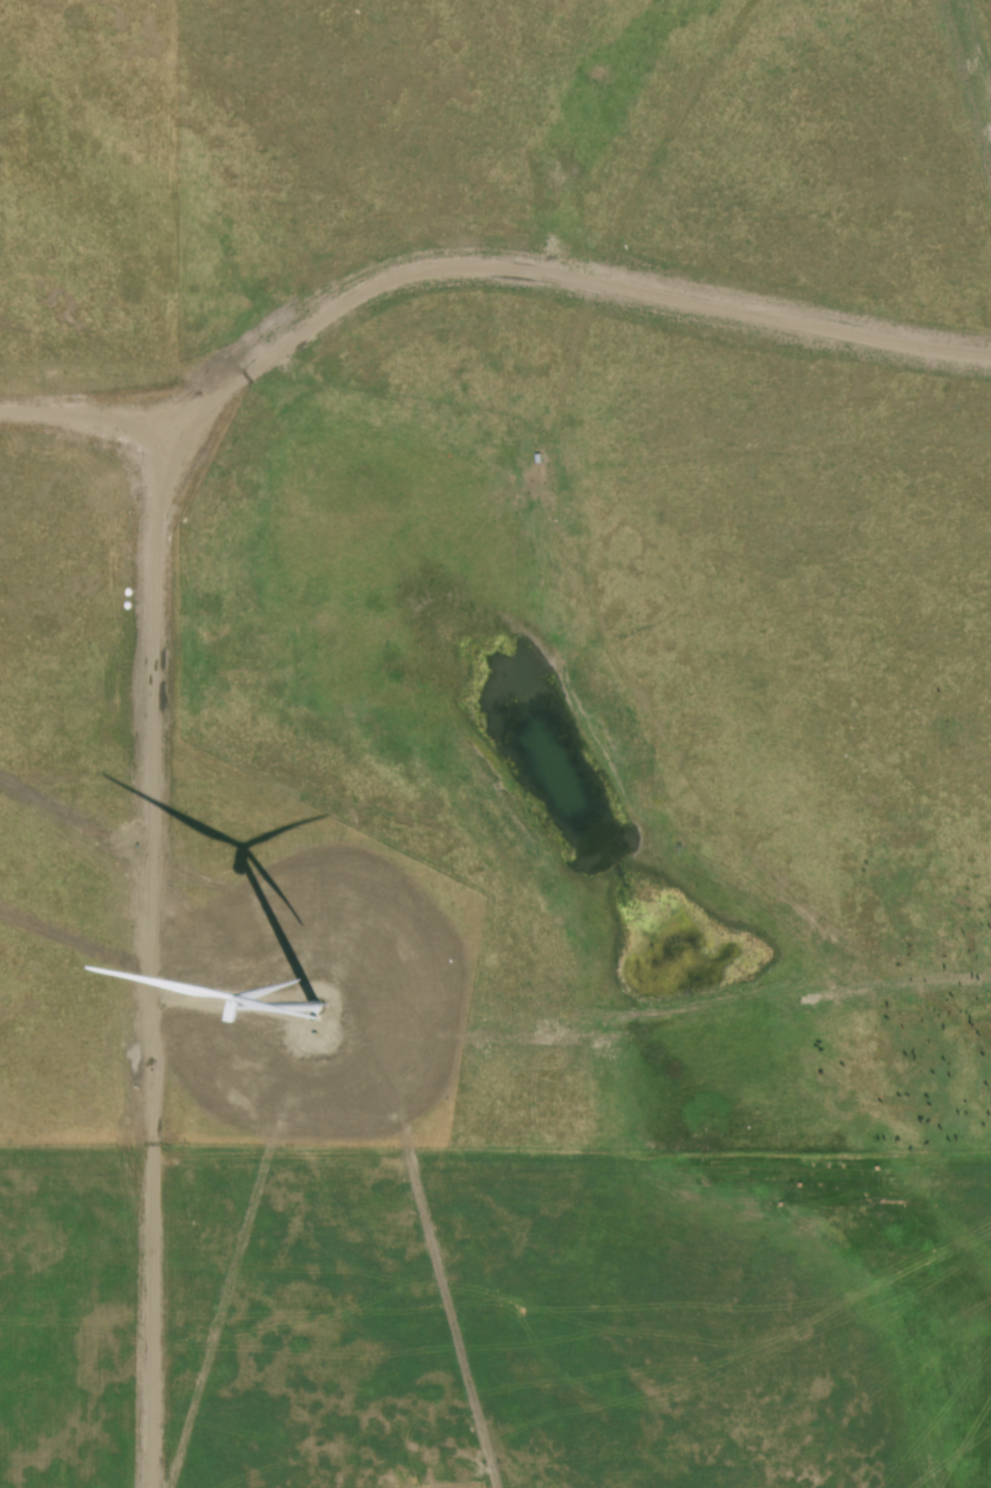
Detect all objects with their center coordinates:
wind turbine: (303, 1000)

